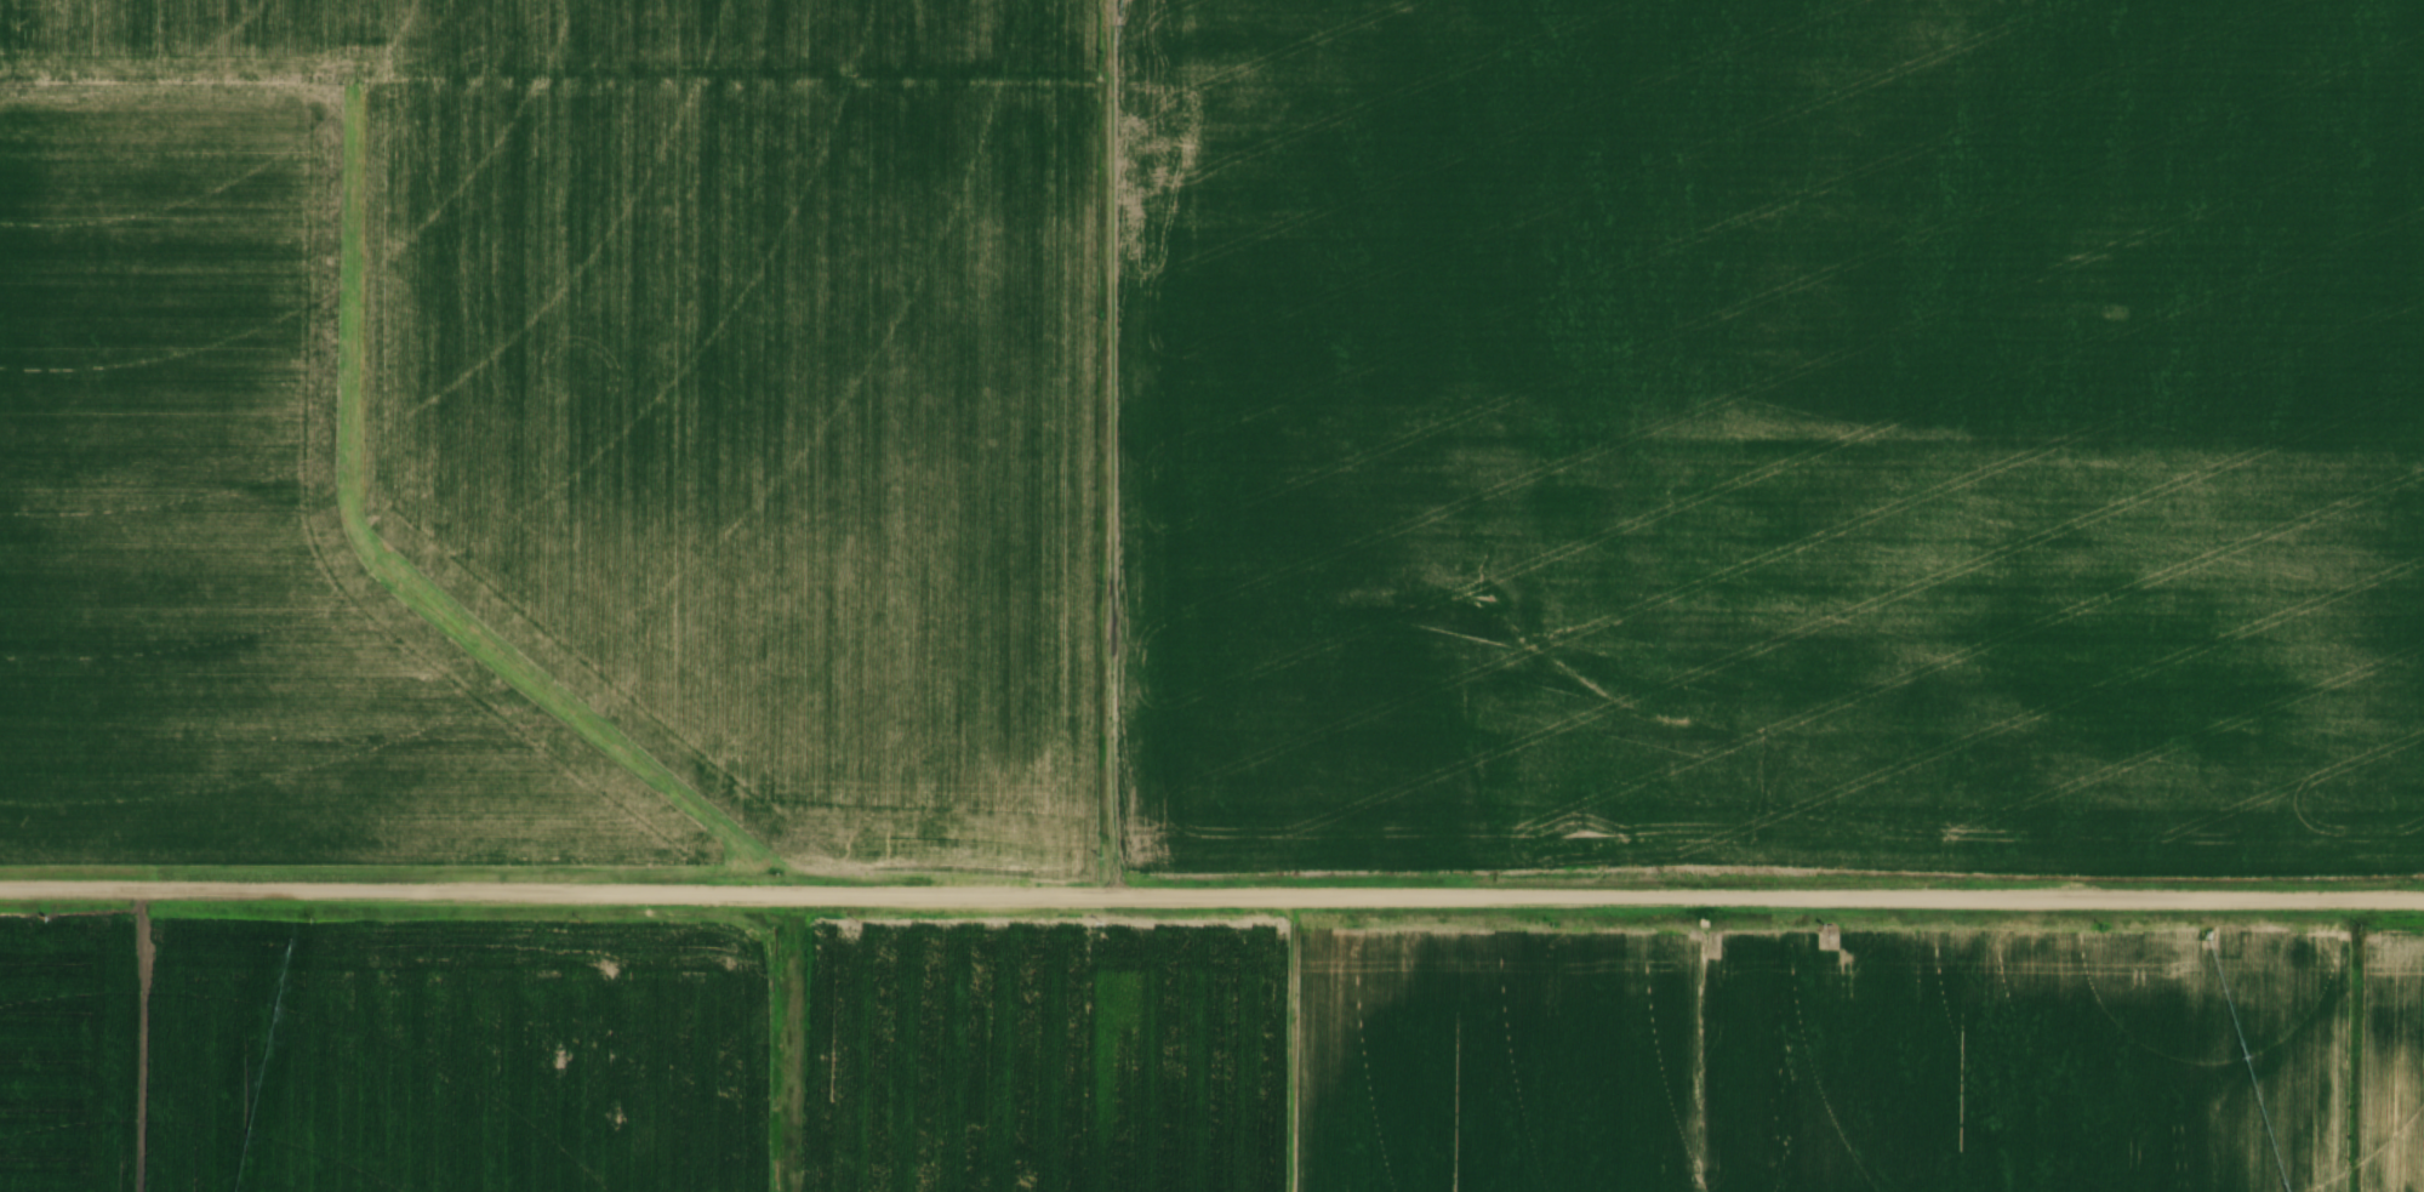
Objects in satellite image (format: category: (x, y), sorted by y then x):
road: (1211, 901)

